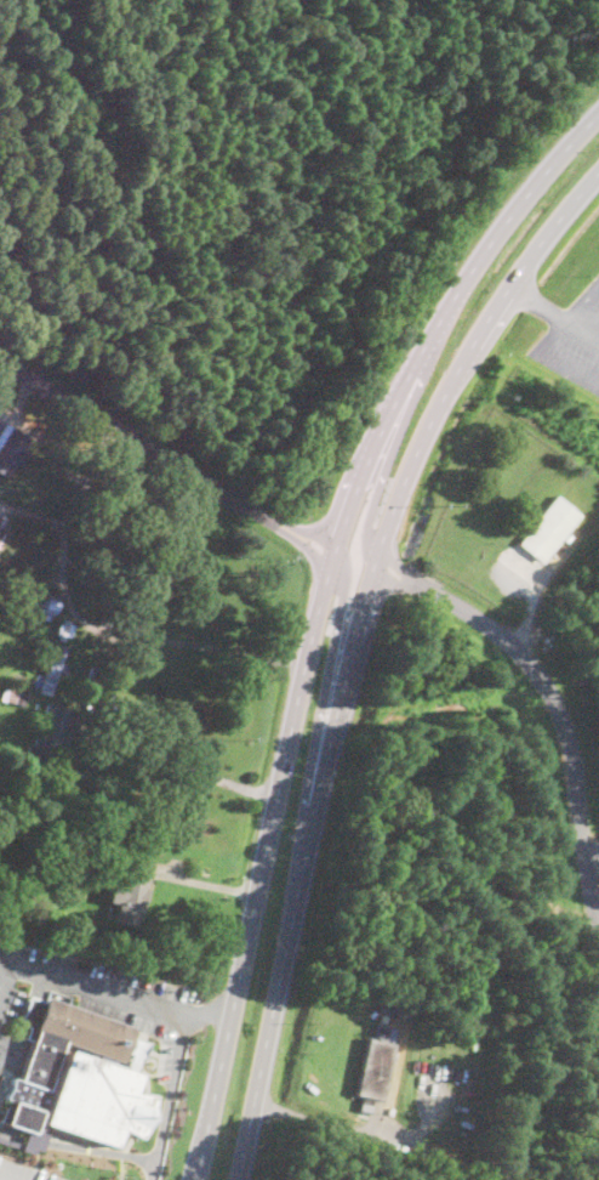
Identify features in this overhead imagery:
road: (583, 301)
road: (538, 303)
road: (583, 329)
road: (464, 359)
road: (549, 359)
building: (0, 401)
building: (11, 447)
road: (166, 456)
road: (386, 472)
building: (549, 527)
building: (0, 529)
building: (39, 601)
road: (318, 613)
building: (130, 618)
road: (91, 624)
road: (337, 628)
building: (53, 668)
road: (547, 692)
building: (50, 732)
road: (186, 762)
road: (592, 856)
road: (303, 873)
building: (130, 892)
road: (6, 986)
road: (93, 988)
road: (211, 1010)
building: (375, 1065)
building: (79, 1073)
road: (170, 1096)
road: (324, 1122)
road: (78, 1145)
road: (0, 1179)

